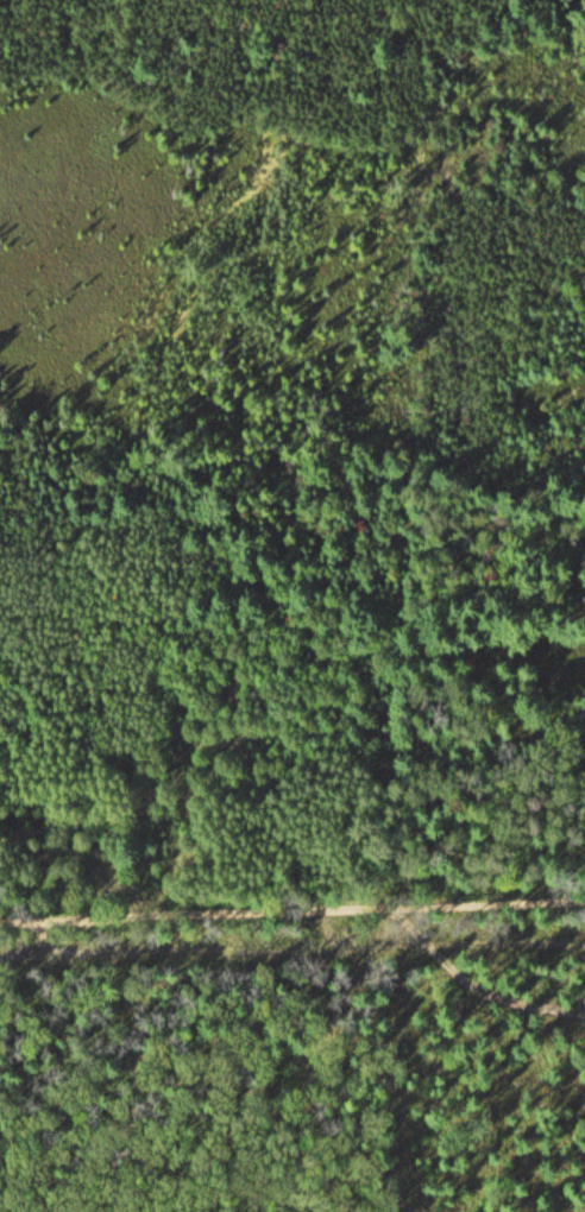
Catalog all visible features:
road: (292, 922)
road: (452, 943)

